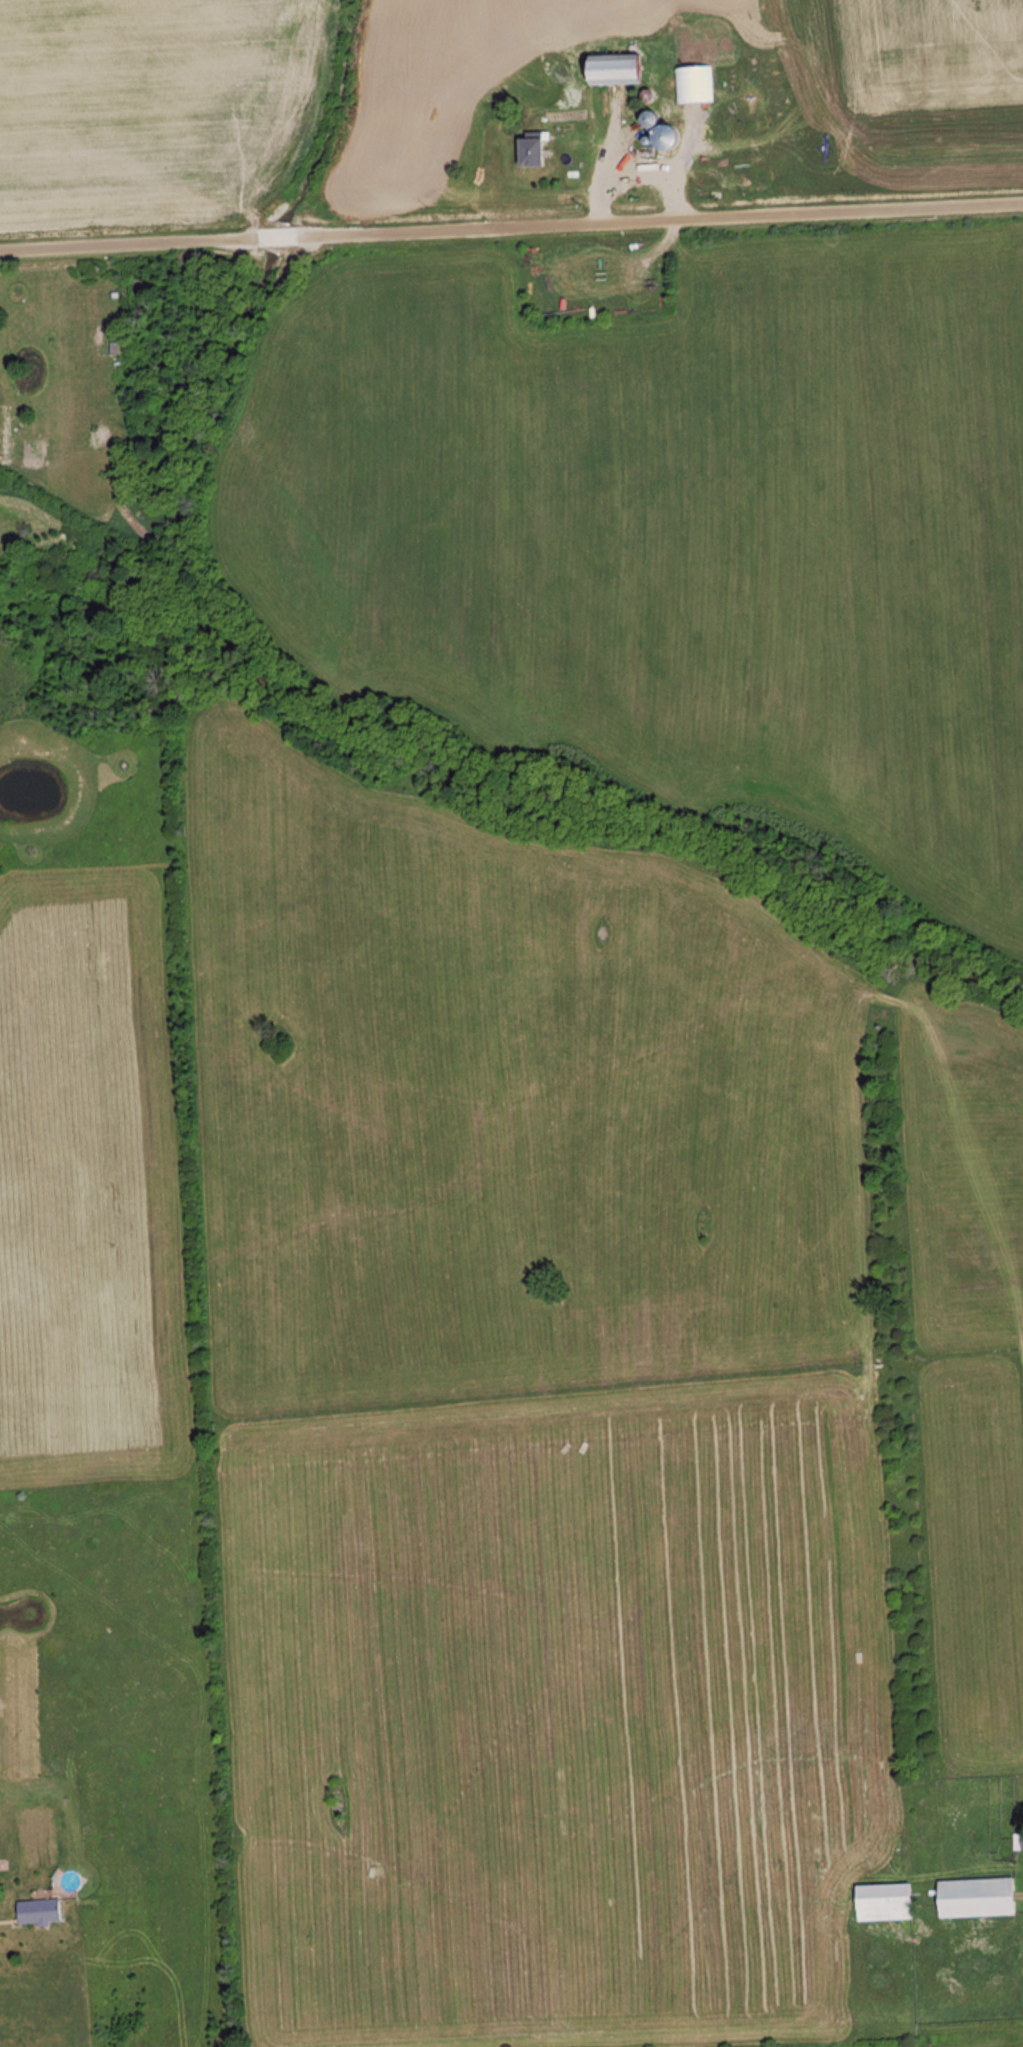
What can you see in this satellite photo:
building: (666, 42)
building: (610, 70)
building: (529, 150)
road: (511, 226)
building: (975, 1899)
building: (883, 1903)
building: (38, 1912)

